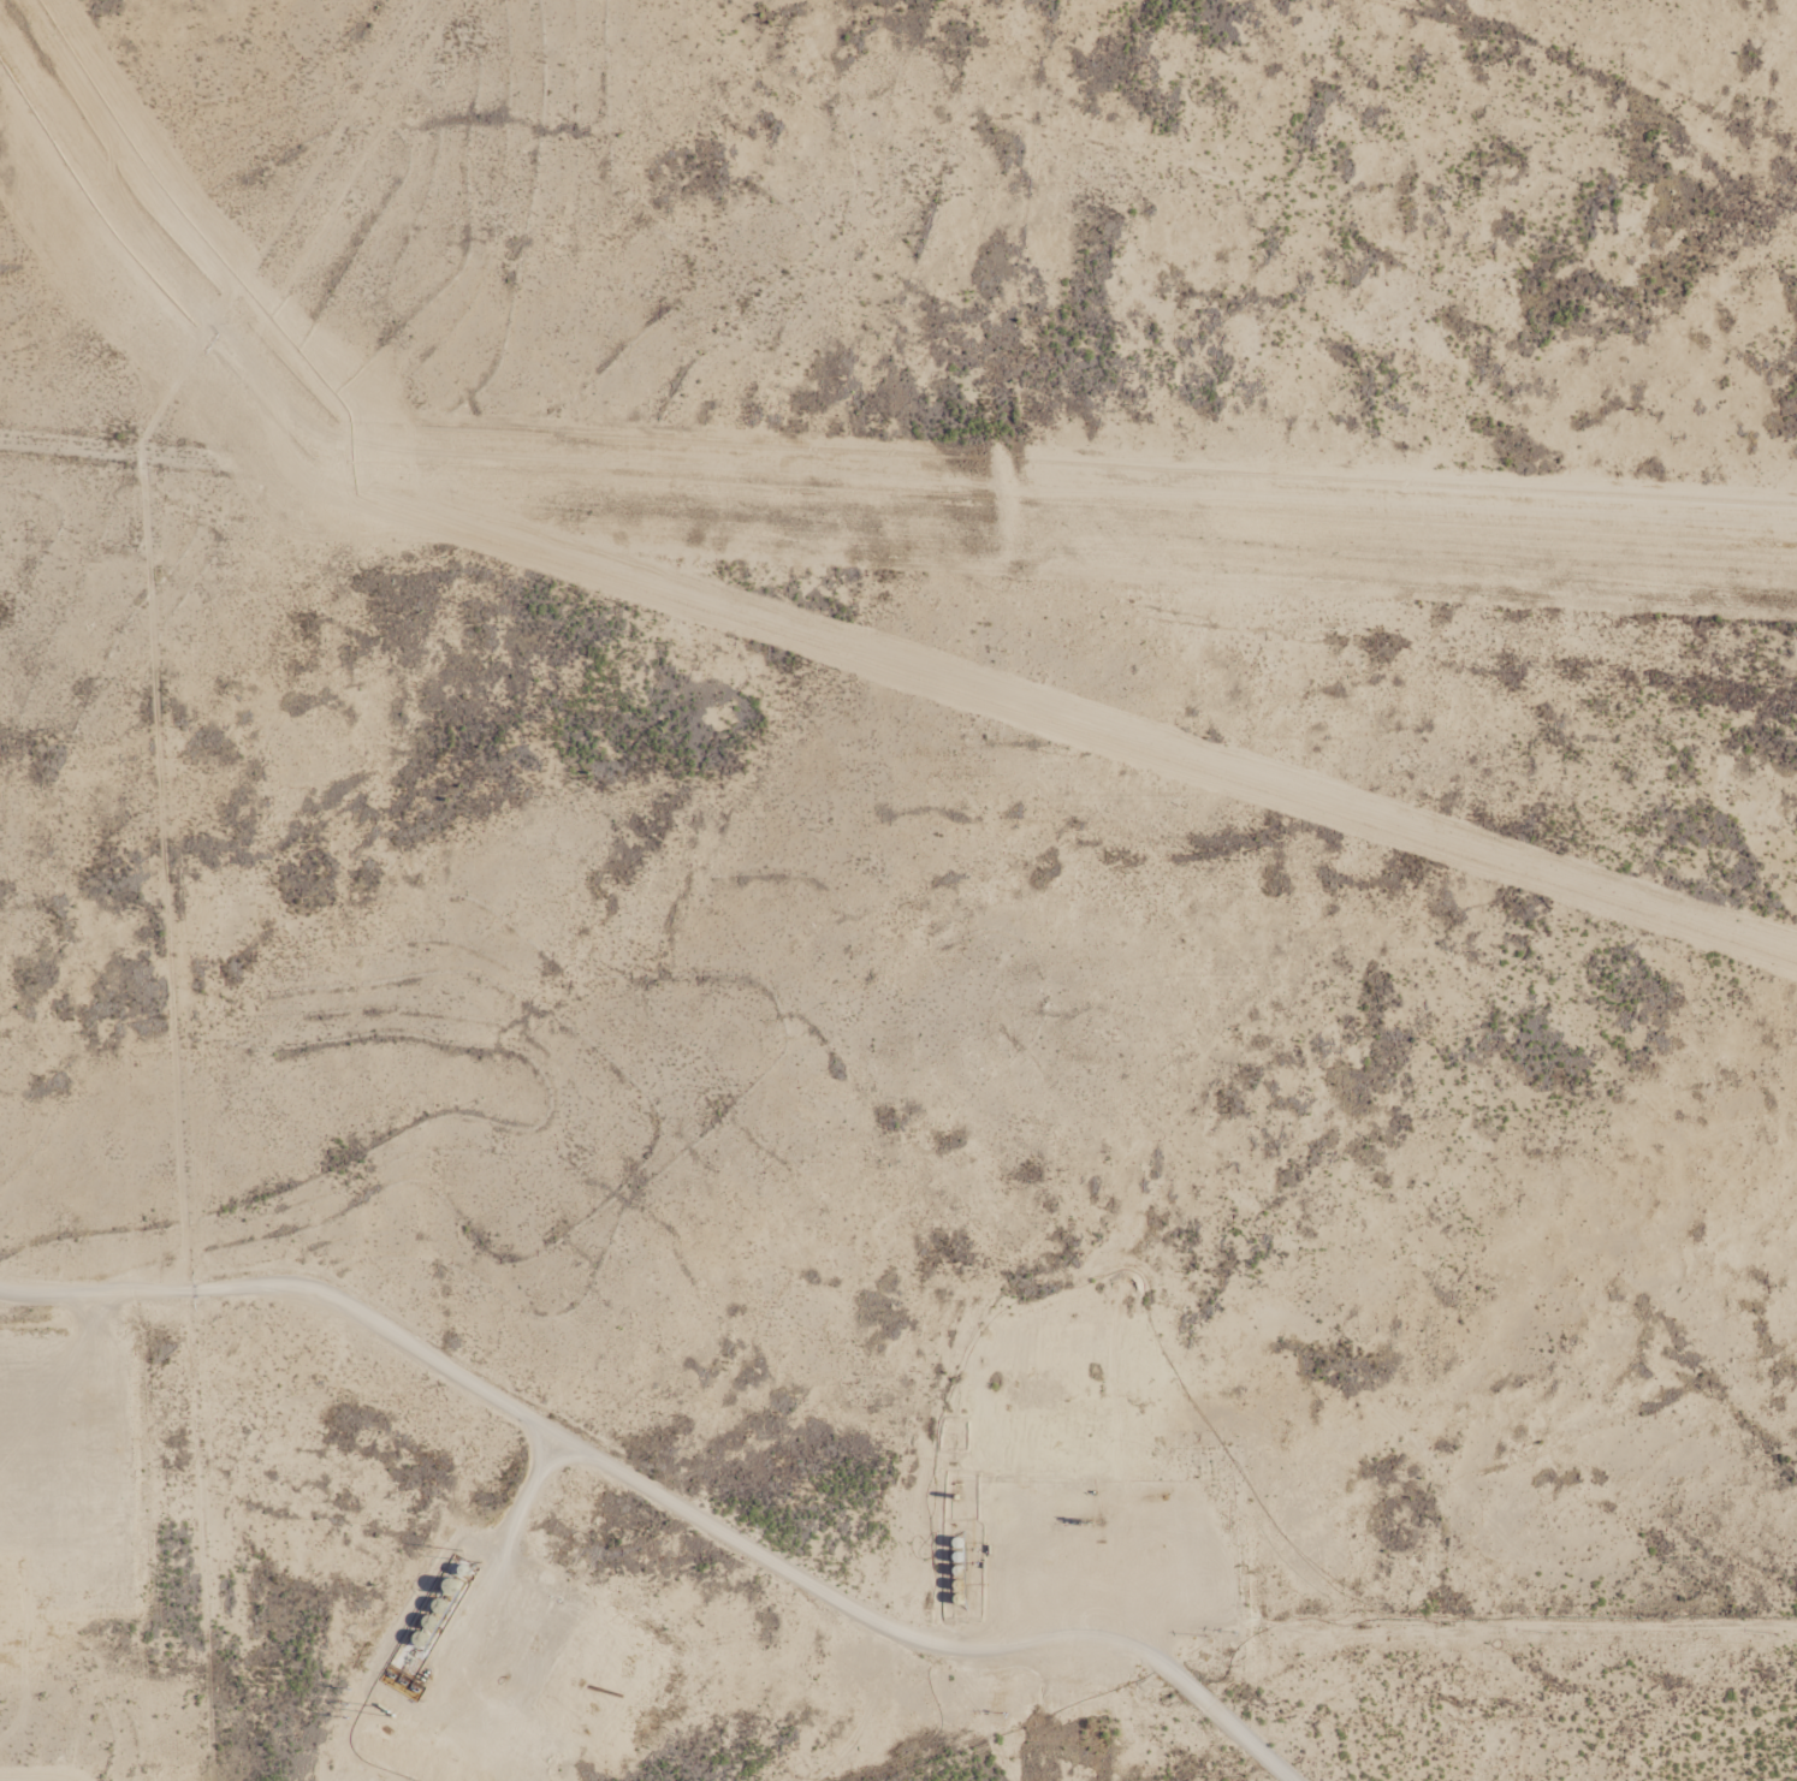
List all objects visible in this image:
road: (653, 1494)

